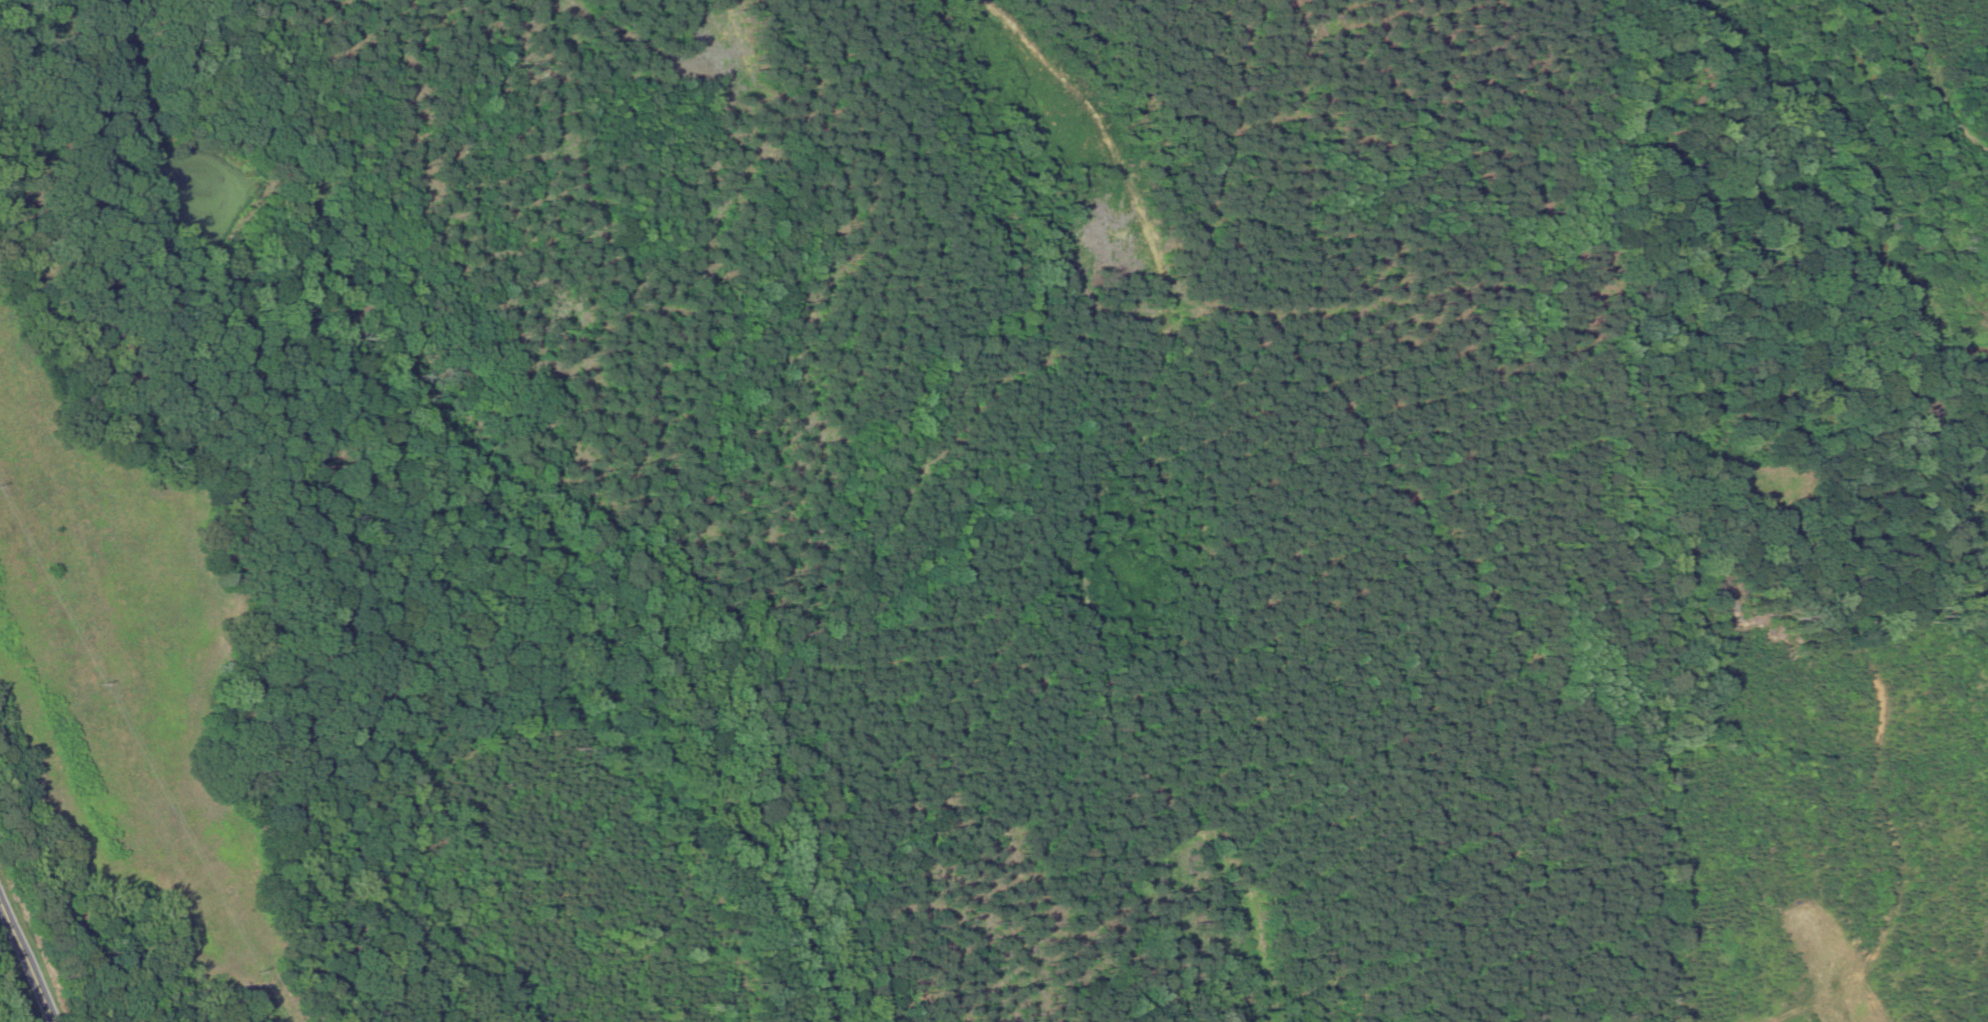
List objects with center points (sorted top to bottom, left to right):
river: (1884, 160)
road: (27, 961)

